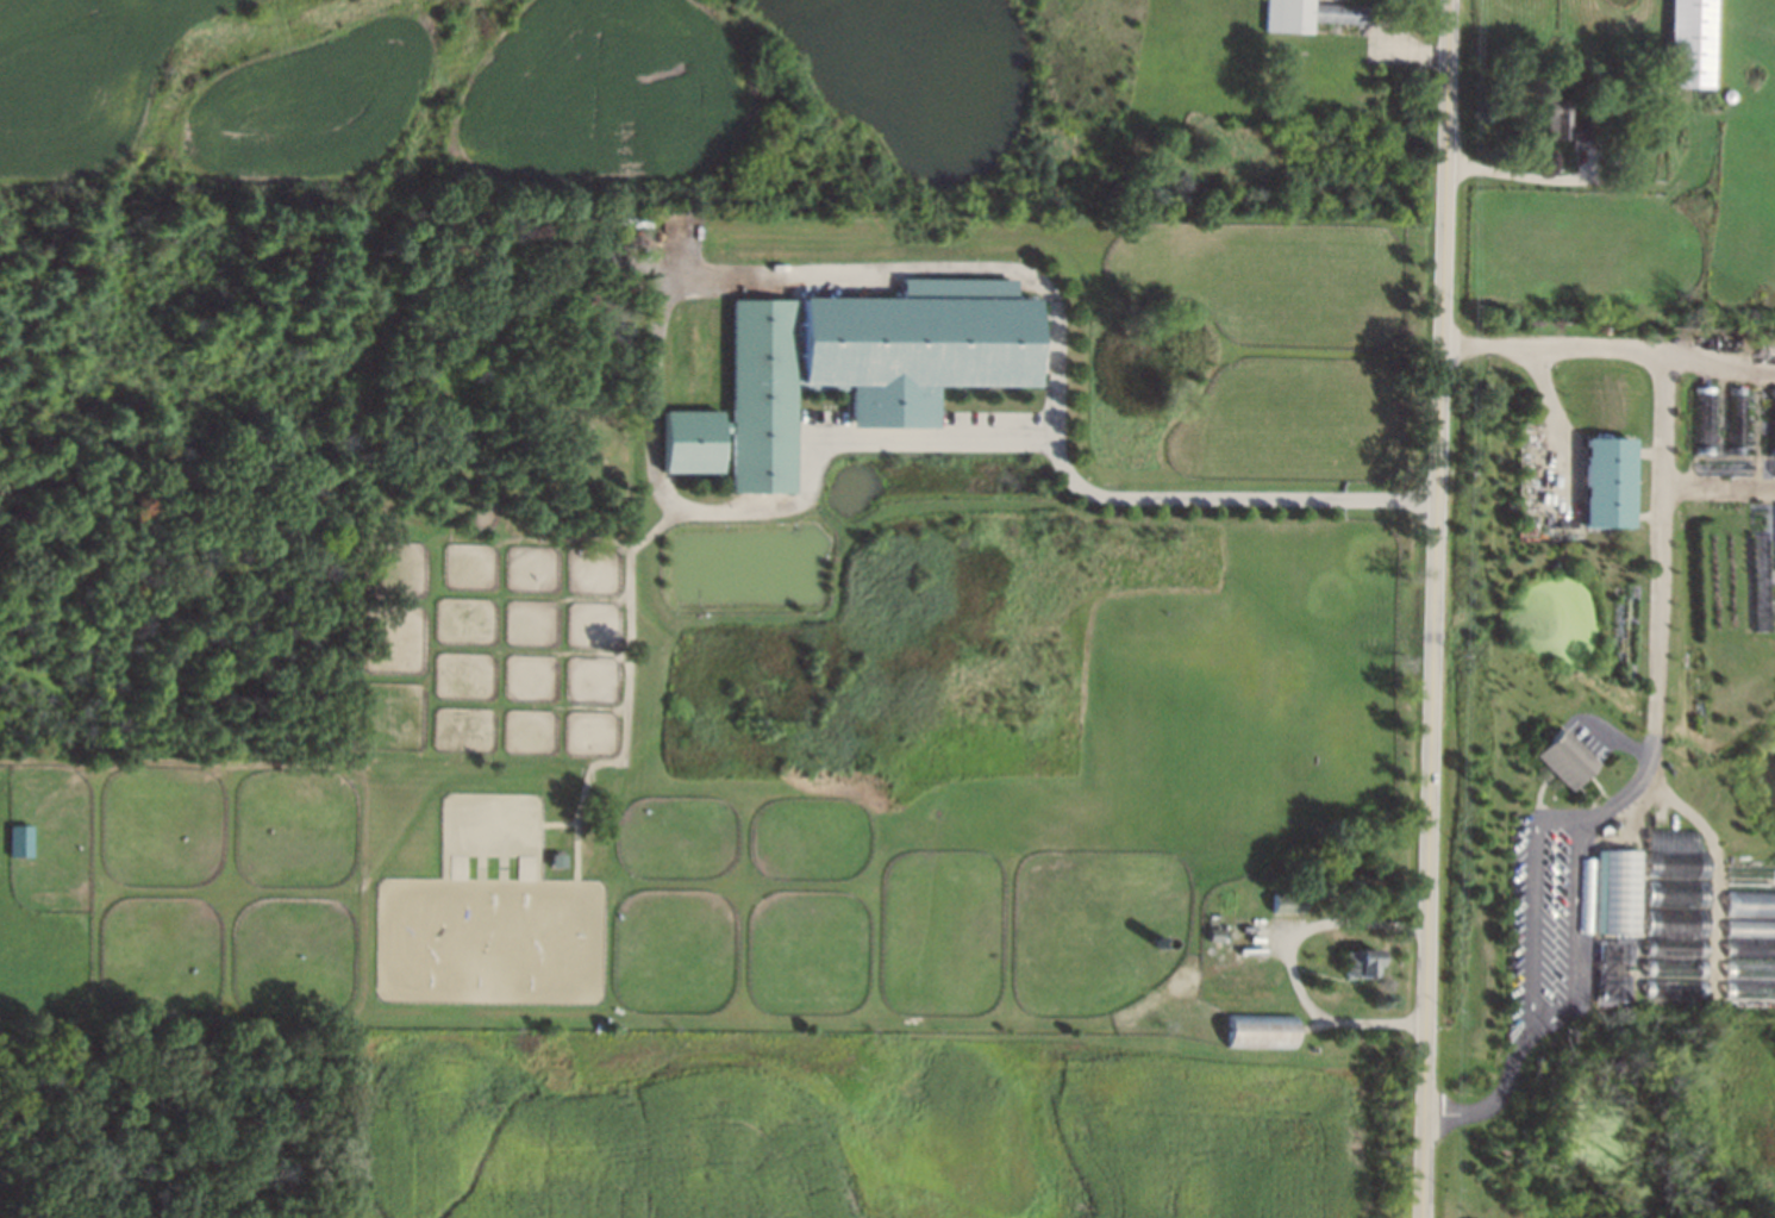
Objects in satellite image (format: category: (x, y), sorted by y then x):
building: (1310, 14)
building: (1693, 43)
road: (1411, 51)
crop: (82, 77)
building: (1562, 120)
road: (1527, 171)
road: (811, 270)
building: (856, 367)
building: (1707, 420)
building: (1738, 421)
building: (1773, 427)
building: (1611, 483)
road: (1437, 608)
road: (1658, 698)
building: (1568, 760)
crop: (52, 837)
building: (1674, 841)
building: (21, 842)
building: (1679, 864)
building: (1749, 874)
building: (1618, 893)
building: (1679, 894)
building: (1732, 899)
building: (1749, 900)
building: (1290, 905)
building: (1677, 924)
crop: (38, 942)
building: (1676, 948)
building: (1620, 950)
building: (1361, 963)
road: (1294, 967)
building: (1750, 969)
building: (1620, 987)
building: (1675, 987)
building: (1750, 989)
building: (1263, 1031)
crop: (867, 1135)
crop: (1477, 1189)

